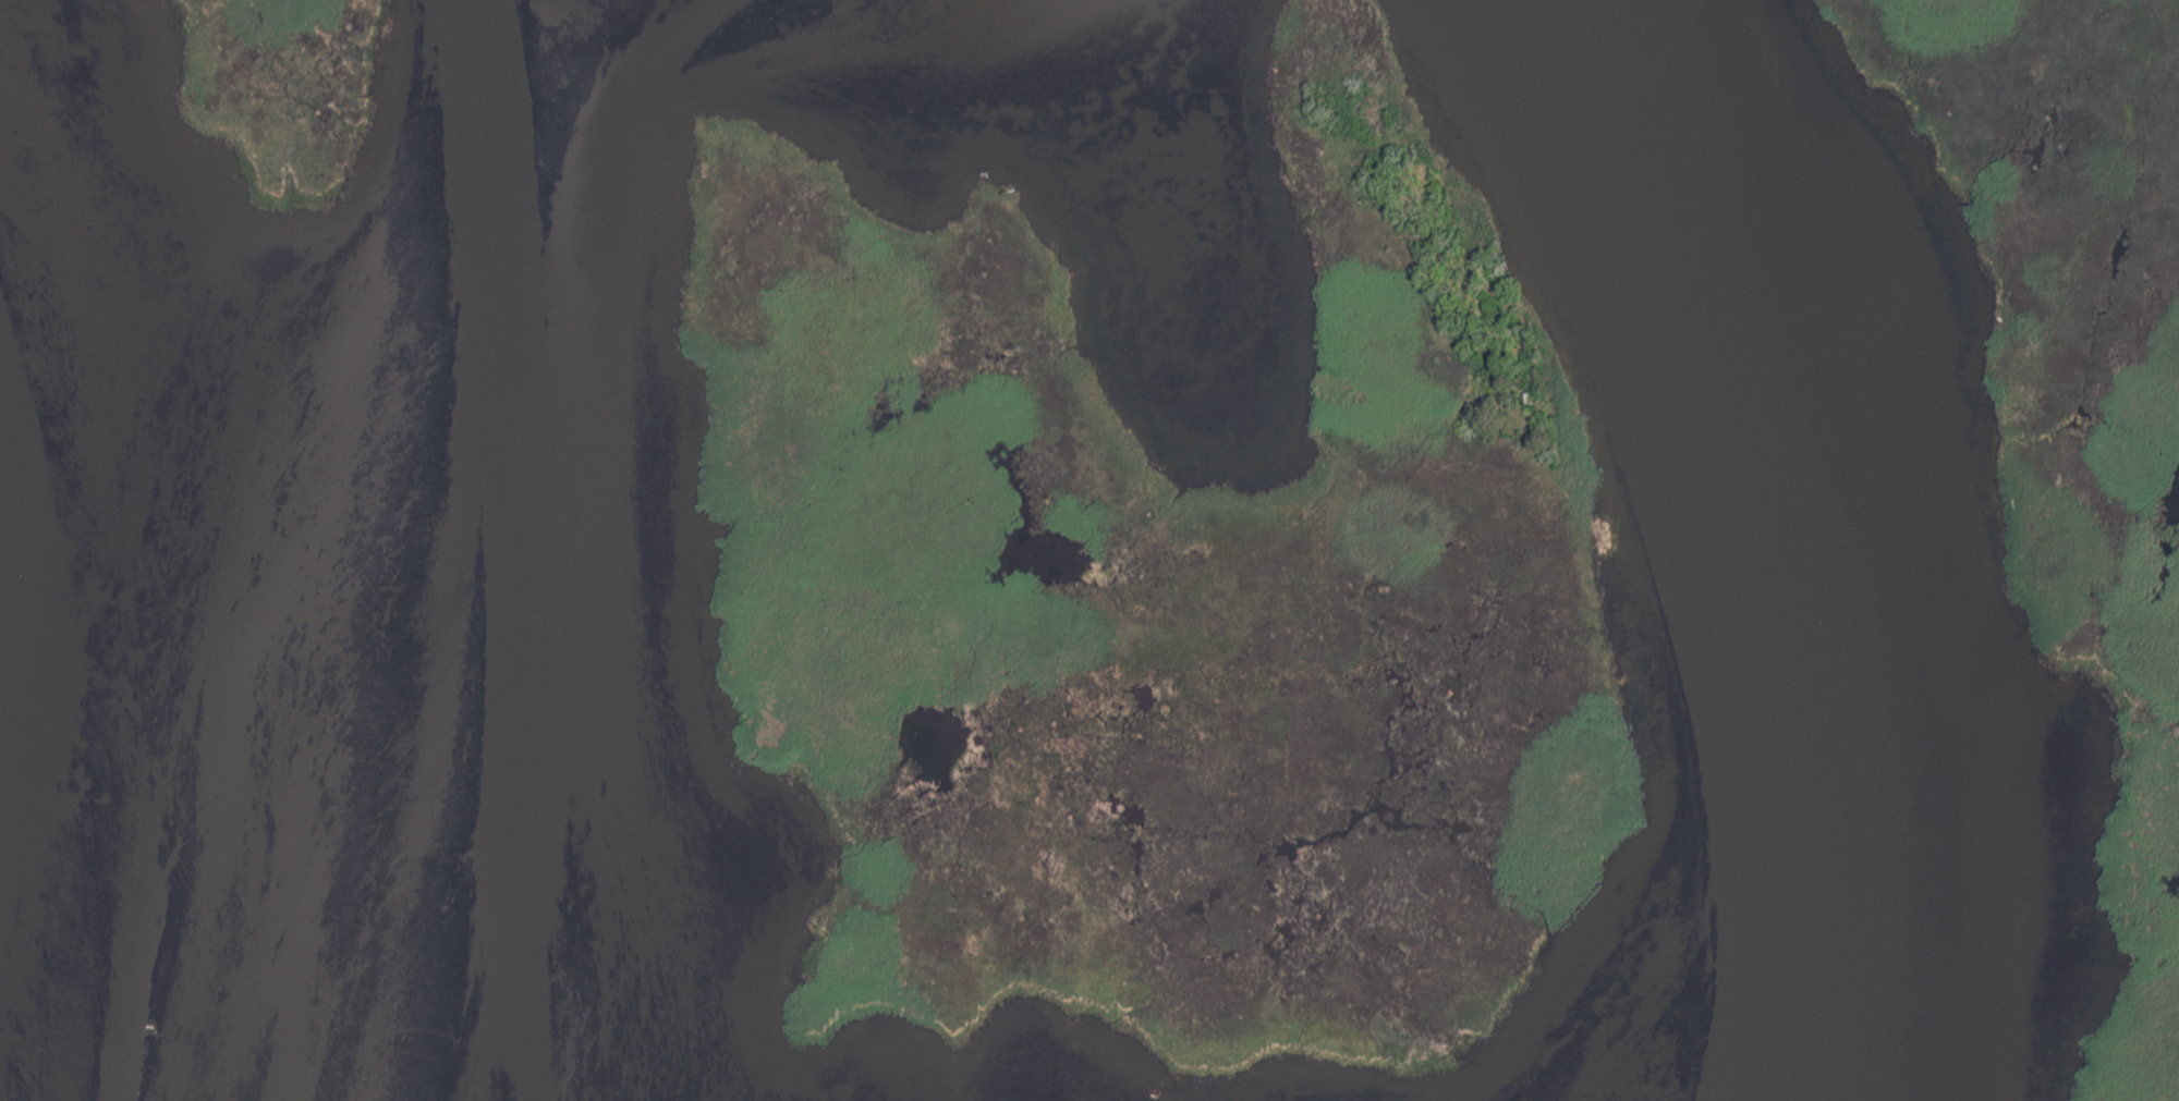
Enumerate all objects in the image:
river: (1737, 549)

